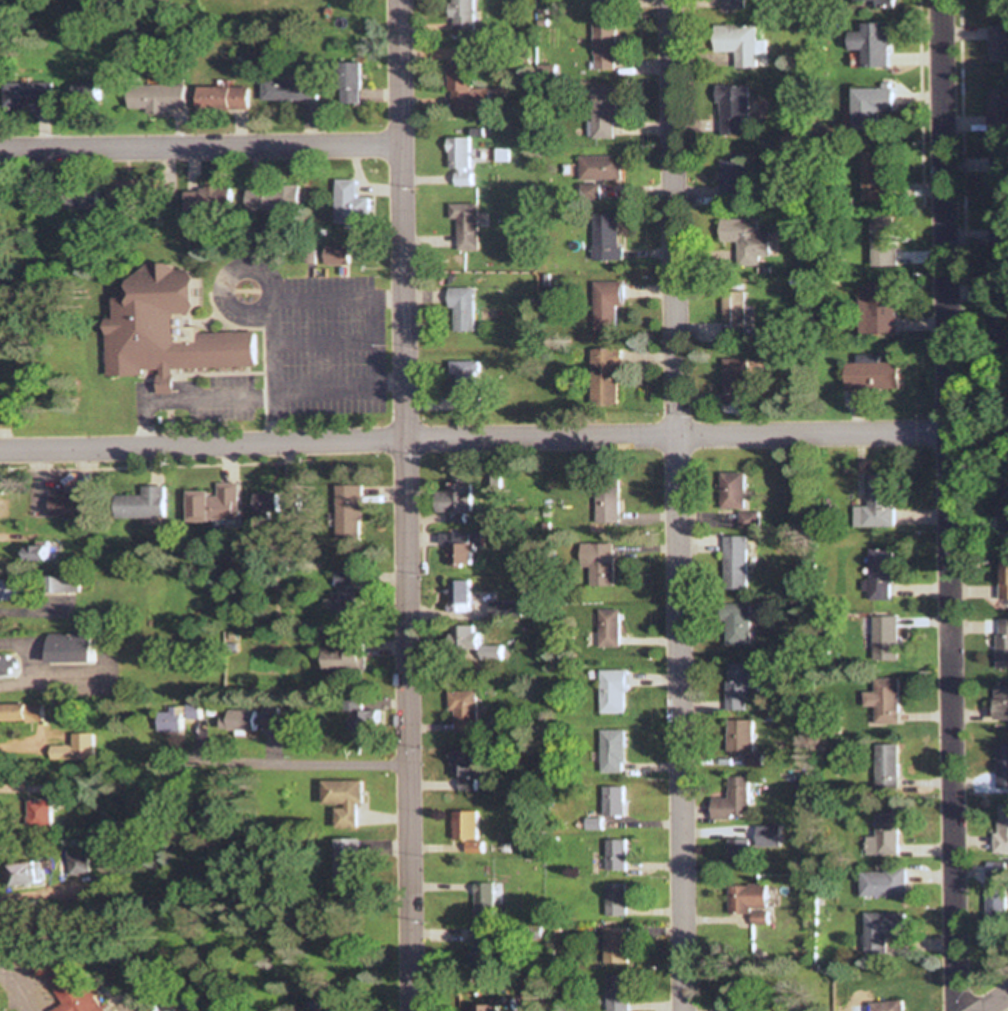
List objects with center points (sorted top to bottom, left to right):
building: (997, 2)
building: (874, 3)
building: (604, 4)
building: (732, 4)
road: (959, 7)
building: (463, 15)
building: (739, 43)
building: (872, 44)
building: (998, 44)
building: (605, 47)
building: (350, 83)
building: (288, 90)
building: (466, 90)
building: (29, 95)
building: (162, 97)
building: (220, 98)
building: (871, 105)
building: (732, 109)
building: (998, 111)
building: (604, 113)
road: (200, 147)
building: (460, 160)
building: (596, 174)
building: (733, 175)
building: (878, 175)
building: (999, 175)
building: (125, 194)
building: (79, 197)
building: (273, 197)
building: (206, 198)
building: (347, 200)
building: (464, 225)
building: (605, 237)
building: (741, 241)
building: (883, 241)
building: (1000, 251)
building: (336, 255)
road: (225, 277)
road: (337, 295)
building: (607, 303)
building: (878, 308)
building: (461, 309)
building: (732, 313)
building: (165, 328)
parking lot: (309, 334)
road: (321, 340)
road: (272, 372)
building: (870, 374)
building: (603, 375)
building: (464, 380)
building: (733, 382)
road: (388, 383)
road: (287, 393)
parking lot: (227, 398)
road: (472, 438)
building: (730, 490)
building: (456, 499)
building: (607, 499)
building: (875, 503)
building: (67, 504)
building: (141, 504)
building: (213, 504)
road: (405, 505)
road: (675, 505)
road: (945, 505)
building: (267, 506)
building: (1005, 511)
building: (348, 512)
building: (747, 520)
building: (462, 547)
building: (35, 553)
building: (733, 559)
building: (600, 564)
building: (879, 575)
building: (1003, 580)
building: (60, 584)
building: (8, 590)
building: (344, 593)
building: (460, 596)
building: (505, 610)
building: (735, 625)
building: (608, 629)
building: (883, 639)
building: (1001, 644)
building: (474, 646)
building: (69, 648)
building: (342, 659)
building: (5, 664)
building: (736, 686)
building: (613, 691)
building: (881, 700)
building: (999, 702)
building: (465, 711)
building: (21, 712)
building: (175, 716)
building: (362, 718)
building: (240, 720)
building: (738, 735)
building: (72, 748)
building: (611, 751)
road: (292, 762)
building: (884, 763)
building: (1001, 765)
building: (468, 770)
building: (731, 800)
building: (612, 801)
building: (341, 804)
building: (41, 808)
building: (1000, 828)
building: (468, 830)
building: (765, 836)
building: (881, 836)
building: (736, 852)
building: (615, 855)
building: (77, 864)
building: (346, 866)
building: (21, 873)
building: (881, 883)
building: (993, 894)
building: (615, 900)
building: (485, 901)
building: (746, 901)
building: (879, 930)
building: (486, 942)
building: (615, 946)
building: (68, 987)
building: (618, 993)
road: (993, 1001)
building: (872, 1006)
building: (187, 1008)
building: (483, 1008)

